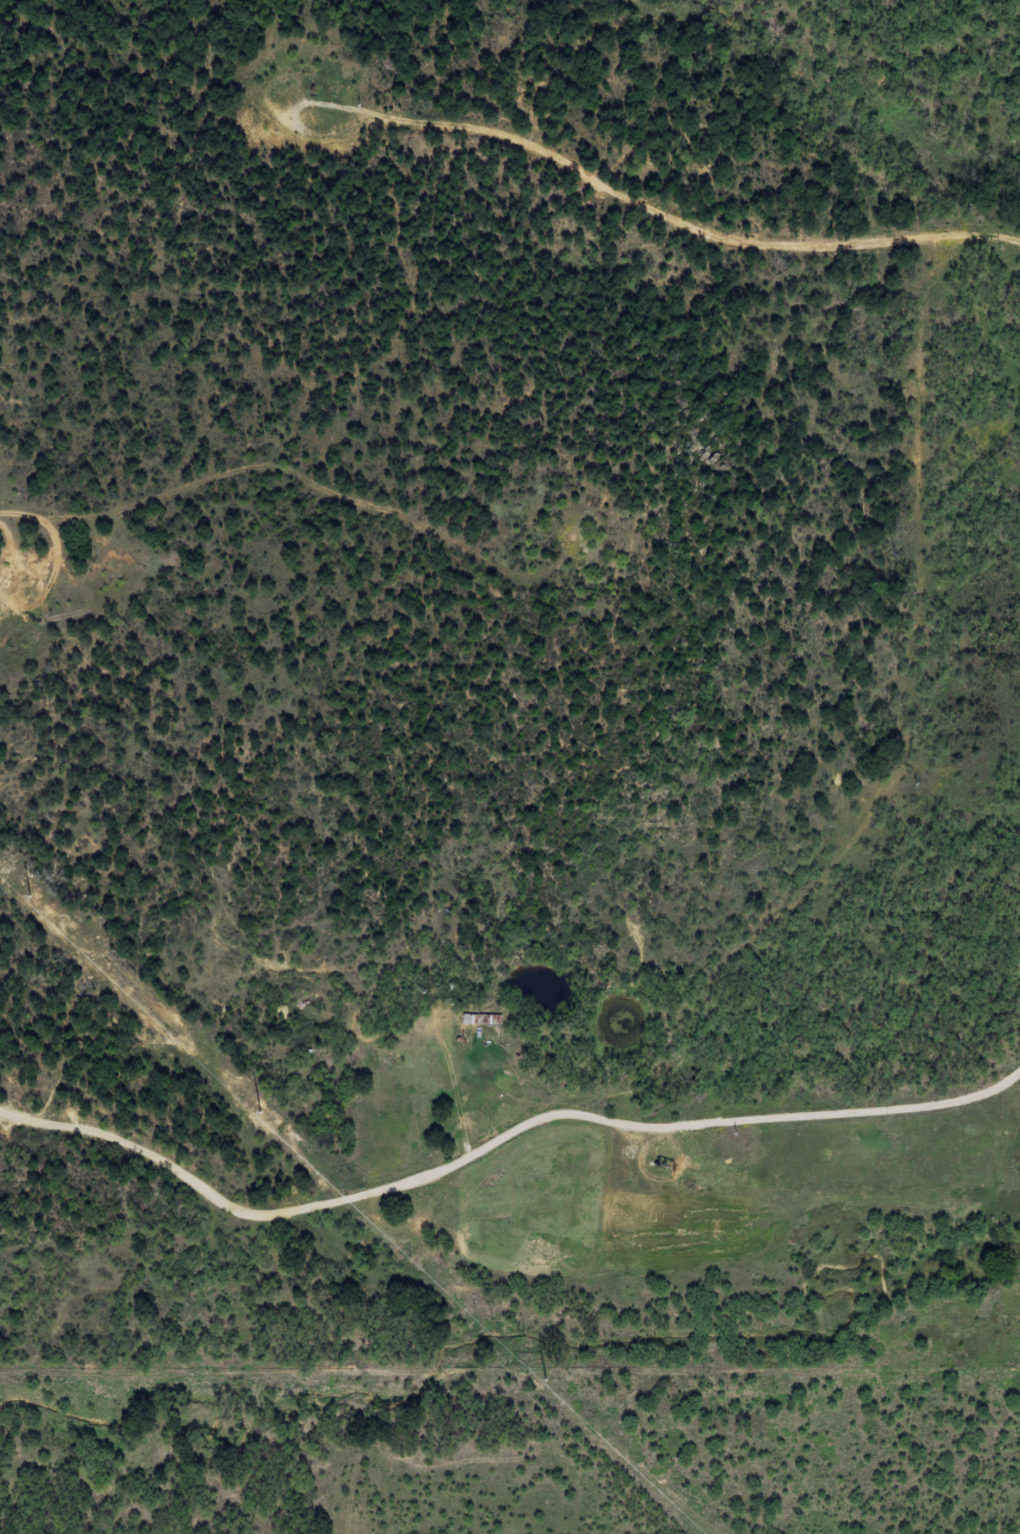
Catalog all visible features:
road: (514, 1128)
building: (698, 1231)

